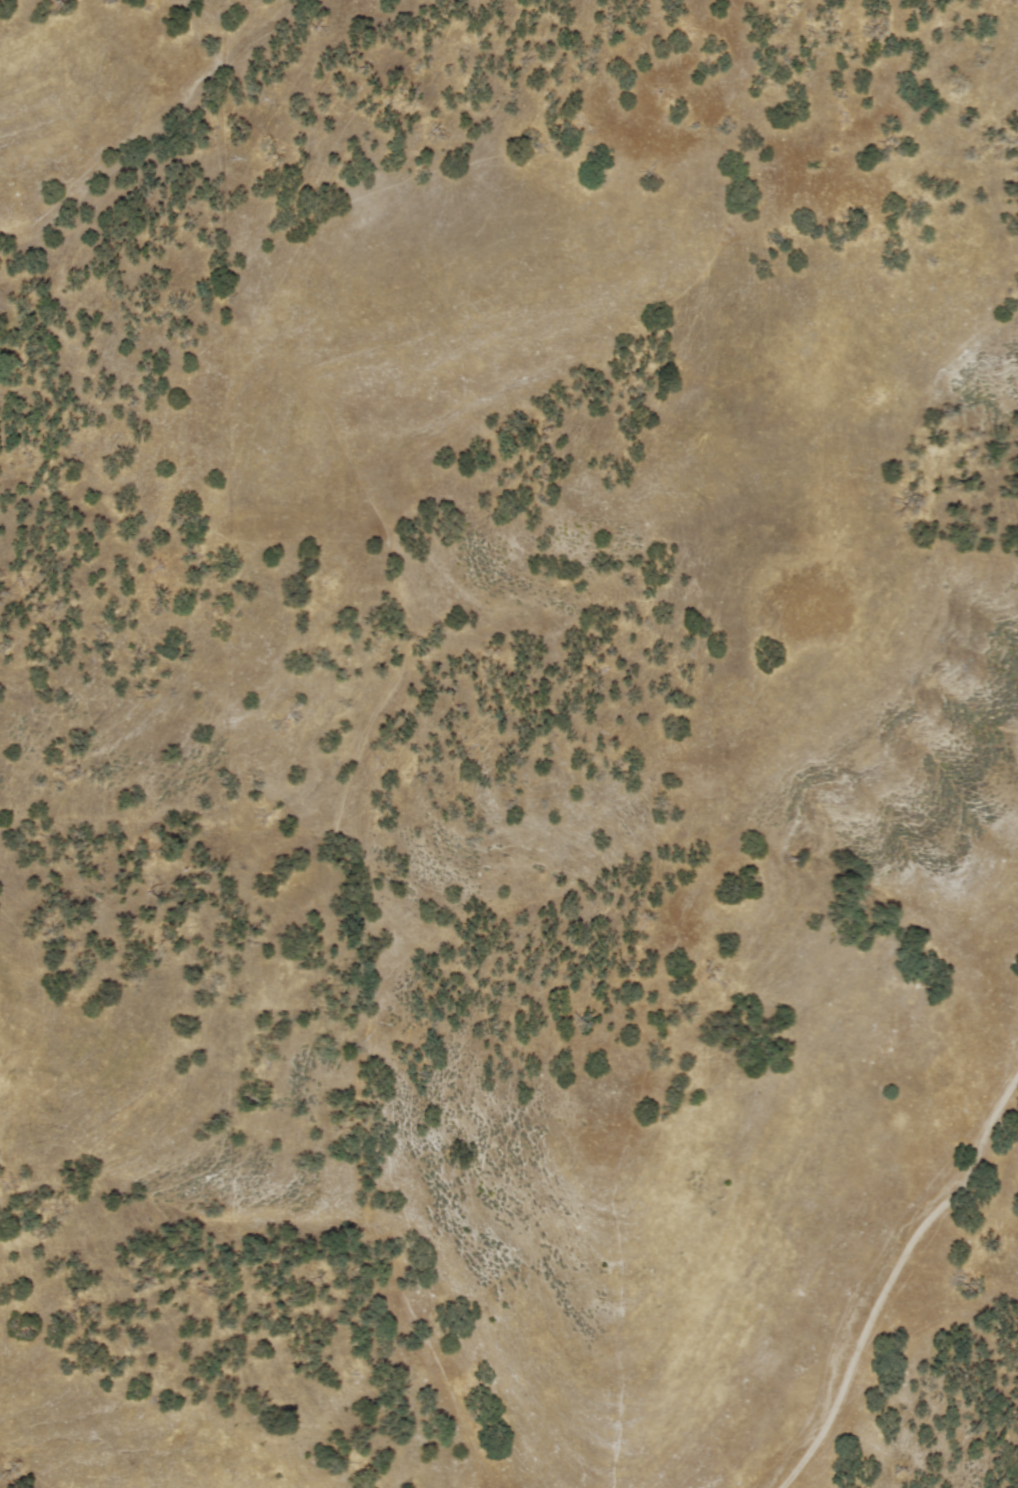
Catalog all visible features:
road: (888, 1280)

